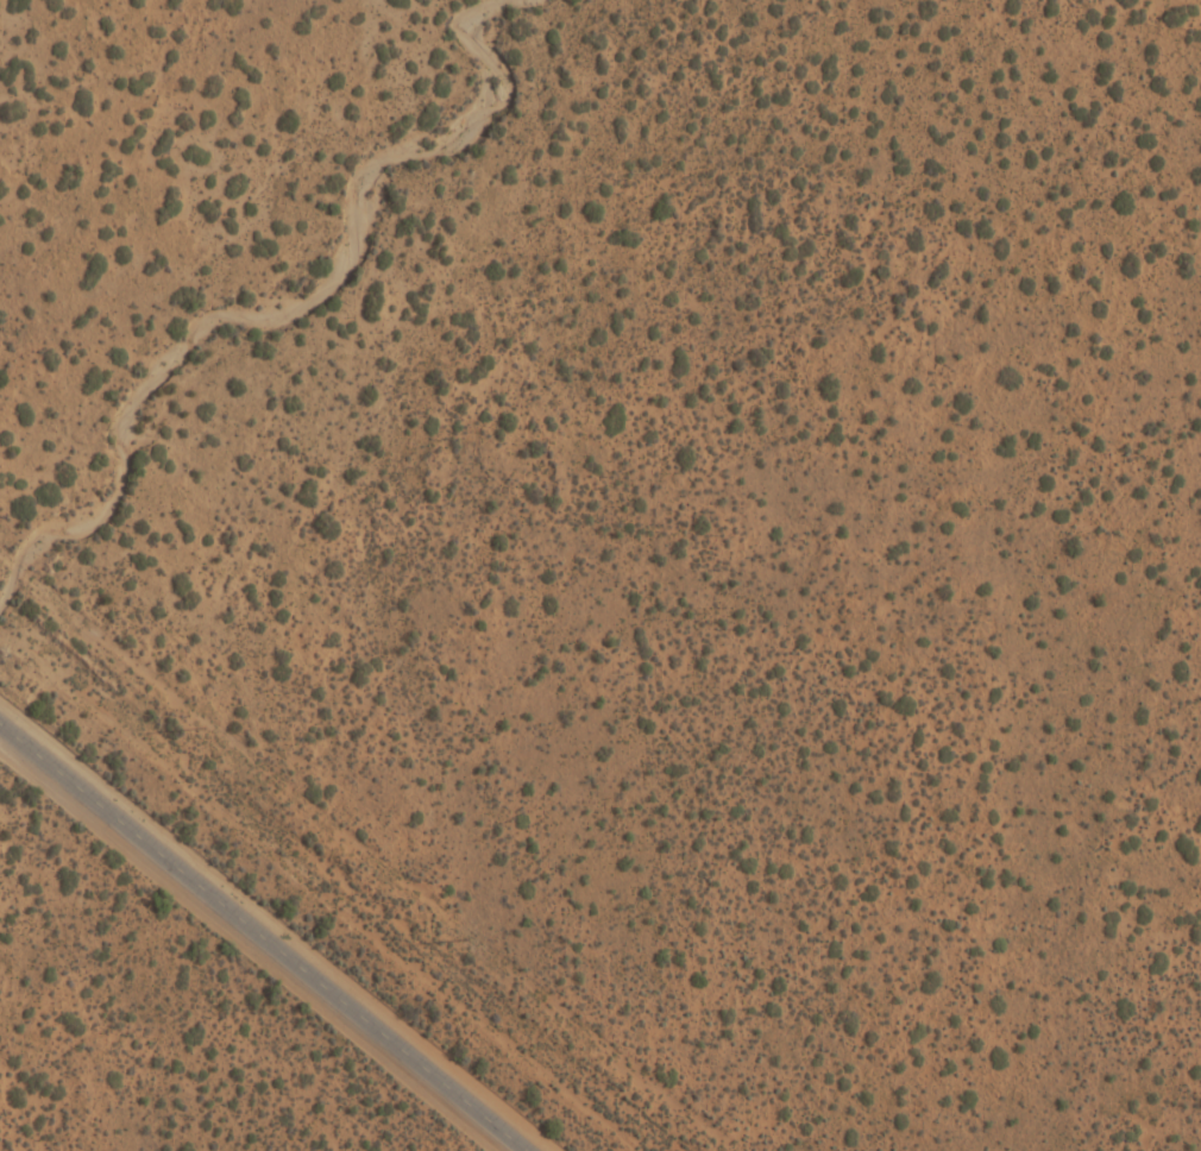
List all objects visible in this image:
road: (264, 937)

